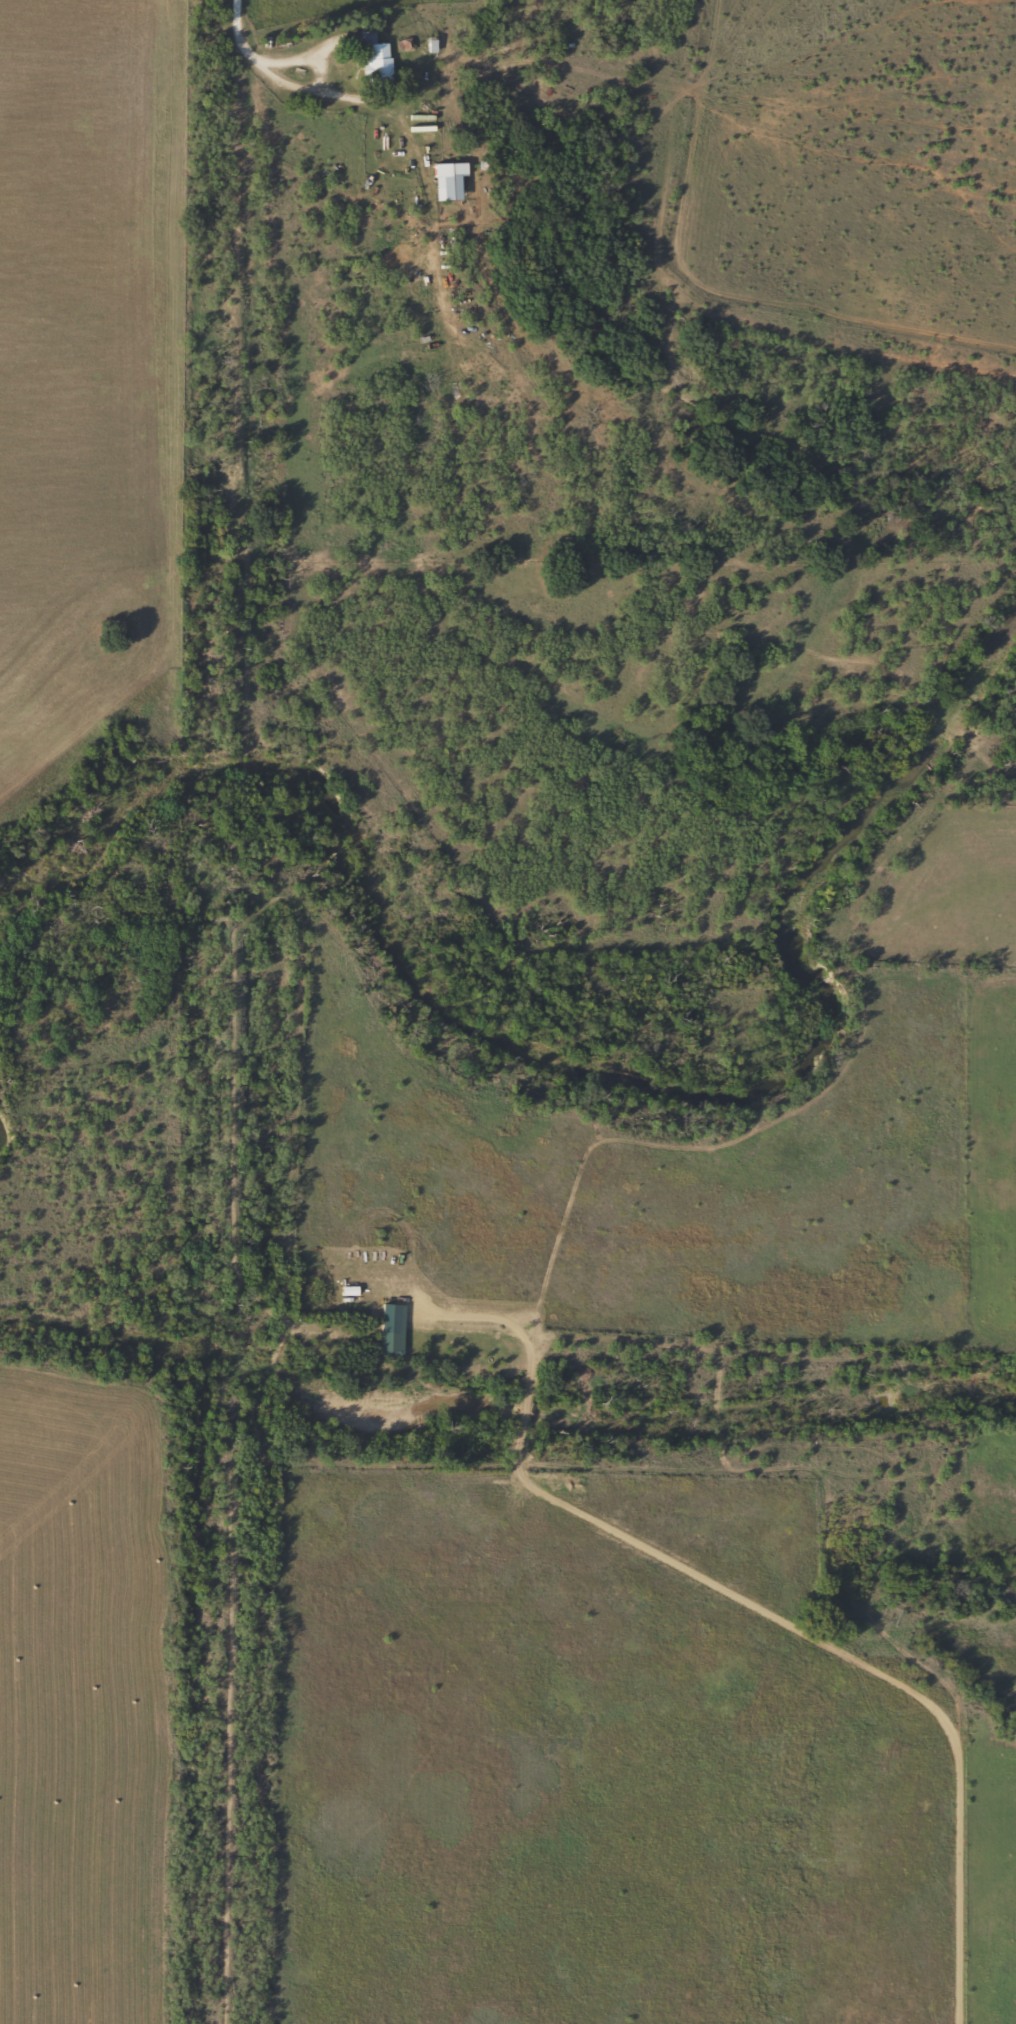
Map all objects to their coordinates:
building: (373, 58)
building: (446, 181)

